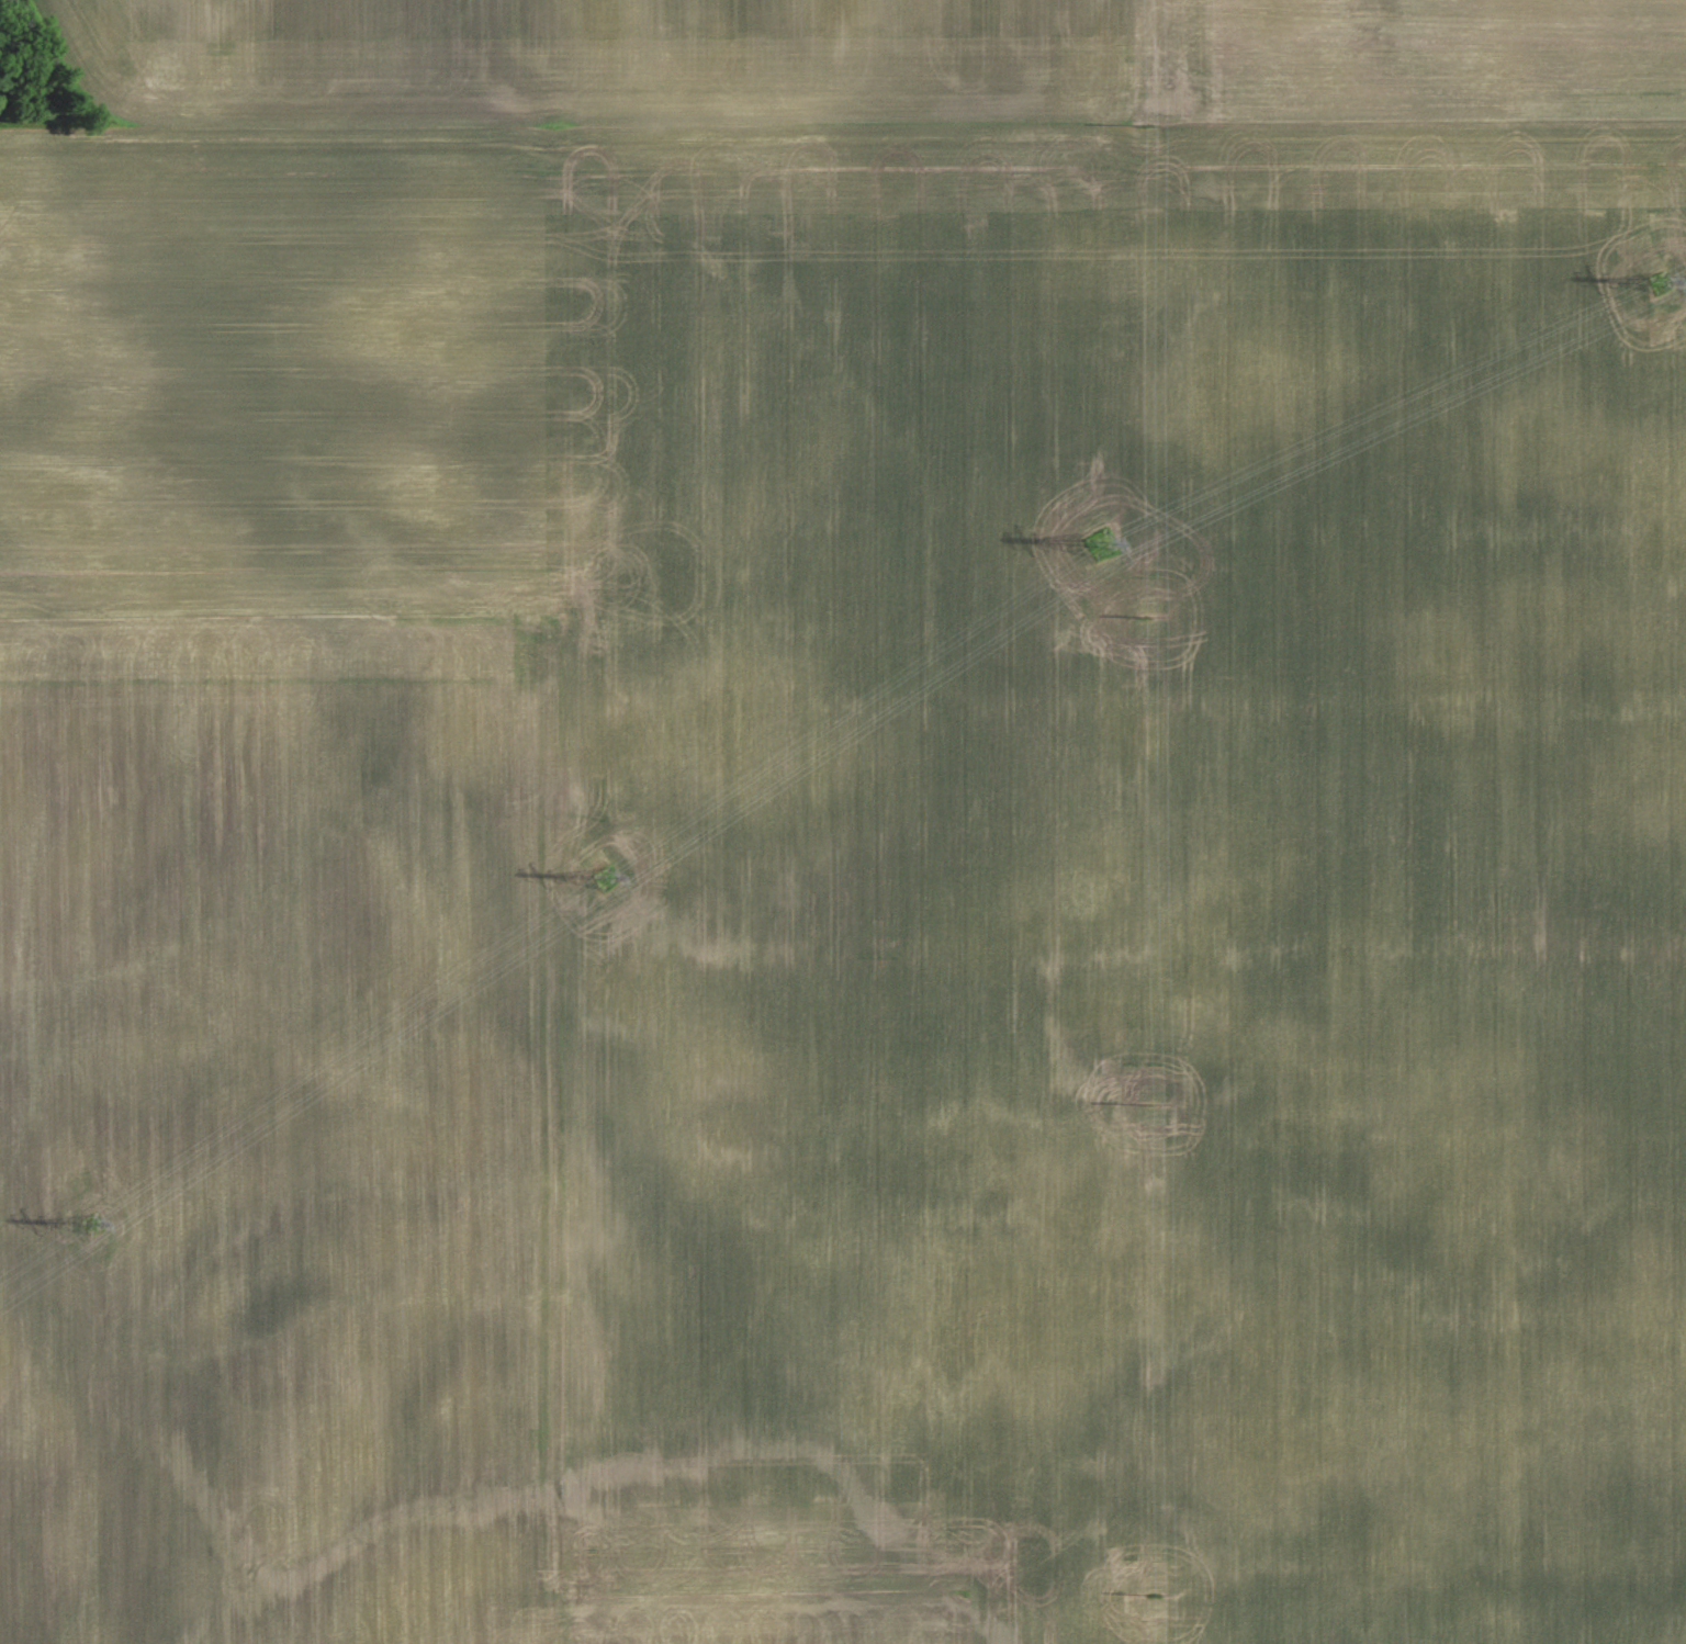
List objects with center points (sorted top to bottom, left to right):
power tower: (1654, 274)
power tower: (1110, 538)
power tower: (609, 870)
power tower: (90, 1218)

